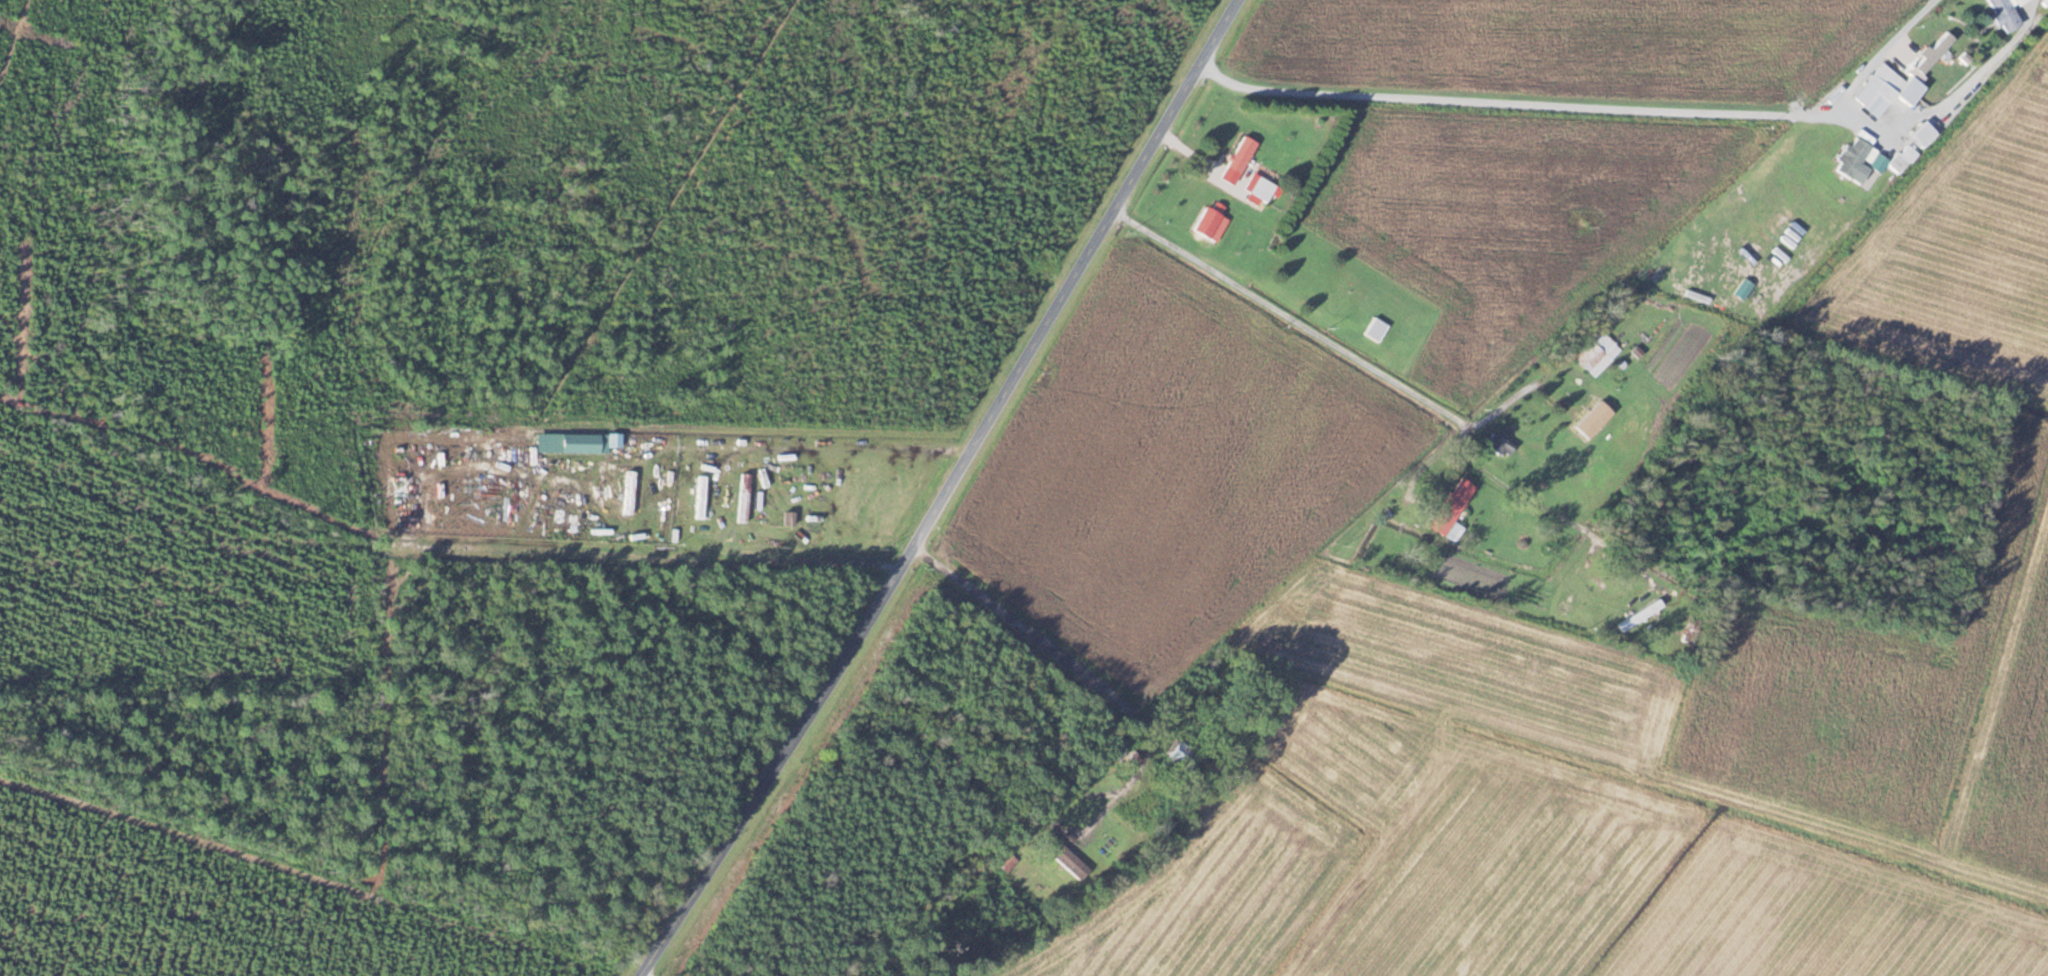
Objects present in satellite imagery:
building: (2006, 13)
building: (1934, 52)
road: (1871, 54)
road: (1968, 78)
building: (1875, 94)
road: (1531, 100)
building: (1924, 133)
building: (1241, 154)
building: (1852, 157)
building: (1263, 189)
building: (1211, 222)
building: (1343, 292)
road: (1288, 311)
building: (1376, 329)
building: (1590, 356)
building: (1498, 445)
building: (629, 491)
road: (952, 492)
building: (1451, 507)
road: (1029, 630)
building: (1185, 754)
road: (1099, 819)
building: (1066, 857)
building: (1007, 859)

